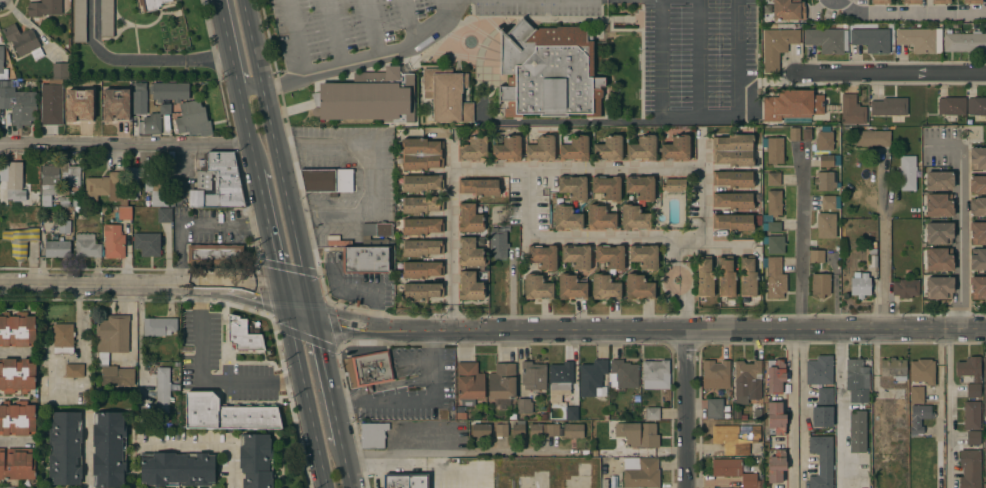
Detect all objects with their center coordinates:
building: (880, 1)
building: (940, 1)
building: (911, 2)
building: (972, 2)
building: (151, 4)
building: (46, 8)
building: (788, 10)
road: (911, 13)
building: (106, 18)
road: (409, 20)
building: (79, 21)
road: (336, 32)
road: (423, 36)
road: (297, 37)
building: (20, 39)
building: (826, 39)
building: (918, 39)
building: (872, 40)
building: (964, 42)
road: (251, 43)
building: (776, 46)
road: (239, 49)
road: (695, 57)
road: (135, 60)
road: (347, 63)
building: (2, 65)
parking lot: (700, 69)
building: (60, 71)
building: (548, 71)
road: (234, 73)
road: (658, 74)
road: (889, 74)
road: (736, 76)
building: (170, 91)
building: (446, 95)
building: (138, 97)
building: (367, 97)
building: (18, 104)
building: (115, 104)
building: (79, 105)
building: (792, 106)
building: (889, 106)
building: (951, 106)
building: (976, 106)
building: (50, 107)
building: (852, 111)
building: (193, 119)
building: (154, 120)
building: (794, 134)
building: (805, 134)
building: (872, 138)
building: (824, 140)
road: (125, 148)
building: (608, 148)
building: (676, 148)
building: (473, 149)
building: (507, 149)
building: (541, 149)
building: (574, 149)
building: (642, 149)
building: (733, 150)
building: (774, 150)
building: (421, 154)
road: (450, 155)
building: (977, 158)
road: (254, 159)
building: (828, 160)
road: (576, 167)
road: (181, 168)
road: (369, 171)
building: (907, 173)
building: (58, 178)
building: (773, 178)
building: (733, 179)
building: (13, 180)
building: (939, 180)
building: (327, 181)
building: (825, 181)
building: (217, 182)
building: (421, 183)
building: (977, 184)
building: (673, 185)
building: (114, 186)
building: (479, 187)
building: (573, 187)
building: (607, 187)
building: (640, 187)
building: (155, 191)
road: (283, 192)
building: (733, 201)
building: (64, 202)
building: (828, 202)
building: (76, 203)
building: (146, 203)
building: (772, 203)
building: (421, 204)
building: (939, 205)
building: (977, 207)
building: (124, 213)
building: (164, 214)
building: (469, 218)
building: (566, 218)
building: (600, 218)
building: (634, 218)
building: (736, 222)
road: (192, 224)
road: (960, 224)
building: (826, 225)
building: (64, 226)
building: (421, 226)
building: (771, 226)
road: (269, 232)
building: (939, 233)
building: (978, 233)
building: (33, 234)
building: (376, 234)
road: (450, 235)
road: (618, 240)
building: (16, 242)
building: (113, 242)
road: (799, 242)
building: (147, 243)
road: (721, 243)
building: (498, 244)
building: (774, 244)
building: (87, 245)
building: (872, 245)
building: (421, 248)
building: (57, 249)
road: (673, 250)
building: (469, 252)
building: (873, 252)
building: (215, 254)
building: (542, 256)
building: (577, 256)
building: (610, 256)
building: (644, 256)
building: (816, 256)
building: (978, 259)
building: (365, 260)
building: (939, 260)
building: (873, 261)
building: (421, 269)
building: (725, 276)
building: (747, 276)
building: (704, 277)
road: (886, 277)
building: (775, 278)
building: (860, 284)
building: (820, 285)
building: (469, 286)
road: (153, 287)
building: (537, 287)
building: (571, 287)
building: (604, 287)
building: (638, 287)
building: (939, 287)
building: (978, 287)
building: (905, 288)
building: (421, 291)
road: (678, 295)
road: (286, 307)
road: (310, 310)
road: (451, 314)
road: (131, 325)
building: (159, 326)
building: (17, 330)
road: (637, 330)
building: (242, 335)
building: (63, 338)
building: (113, 349)
building: (892, 367)
building: (74, 370)
building: (368, 370)
building: (819, 370)
building: (968, 370)
building: (921, 372)
building: (624, 374)
building: (655, 374)
building: (715, 374)
building: (16, 375)
building: (533, 376)
building: (775, 376)
building: (591, 378)
building: (748, 379)
road: (202, 381)
building: (469, 381)
building: (501, 381)
building: (559, 381)
building: (858, 381)
road: (326, 383)
building: (42, 385)
building: (984, 386)
building: (162, 389)
building: (972, 390)
road: (414, 394)
building: (916, 395)
building: (899, 403)
road: (307, 404)
building: (524, 406)
building: (714, 408)
building: (823, 408)
road: (792, 409)
road: (801, 409)
road: (839, 409)
road: (686, 410)
road: (949, 410)
building: (571, 413)
building: (652, 413)
building: (226, 414)
building: (971, 415)
building: (919, 417)
building: (16, 418)
building: (775, 418)
building: (501, 429)
building: (518, 429)
building: (552, 429)
building: (481, 430)
building: (535, 430)
building: (573, 431)
building: (857, 432)
building: (638, 434)
building: (373, 435)
building: (736, 438)
building: (973, 438)
road: (12, 440)
road: (203, 443)
building: (64, 447)
building: (108, 450)
road: (440, 452)
building: (256, 461)
building: (821, 461)
building: (985, 463)
building: (16, 464)
road: (344, 465)
building: (776, 466)
building: (970, 468)
building: (177, 469)
building: (733, 471)
building: (641, 473)
building: (396, 481)

